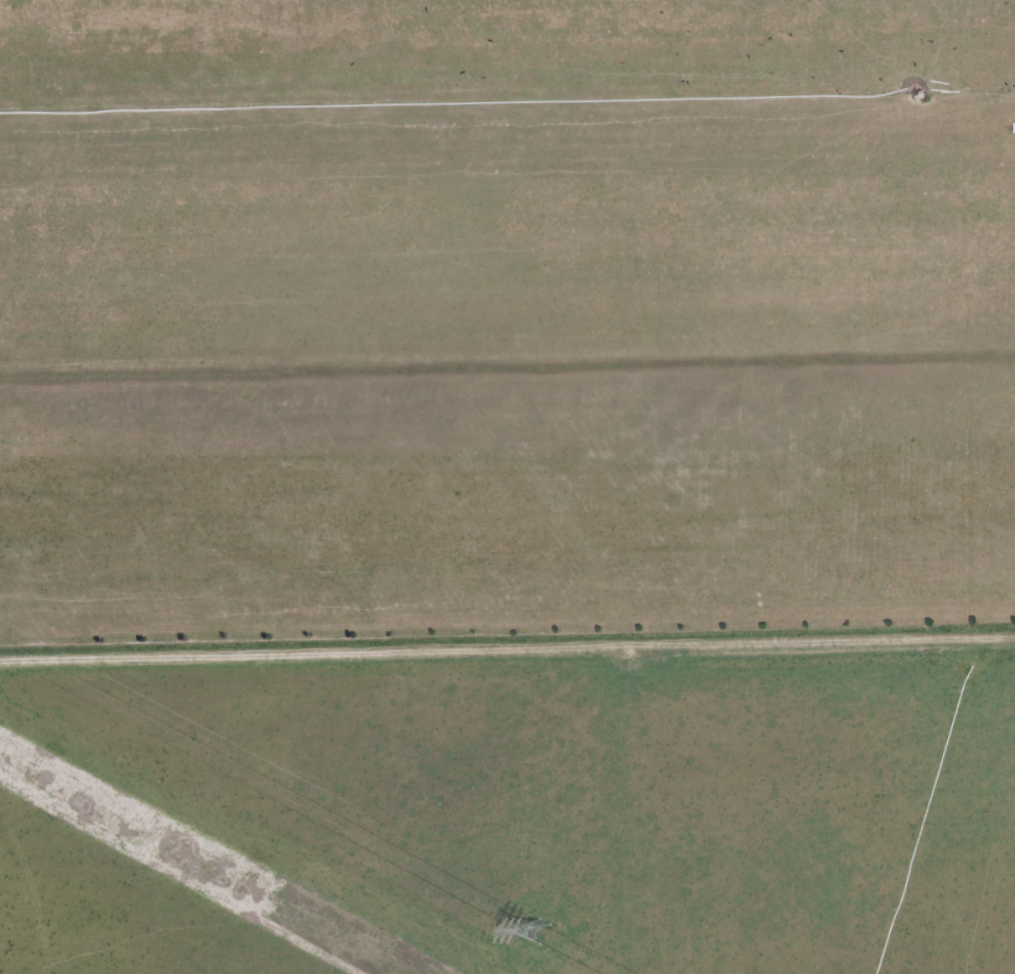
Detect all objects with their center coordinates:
power tower: (534, 932)

